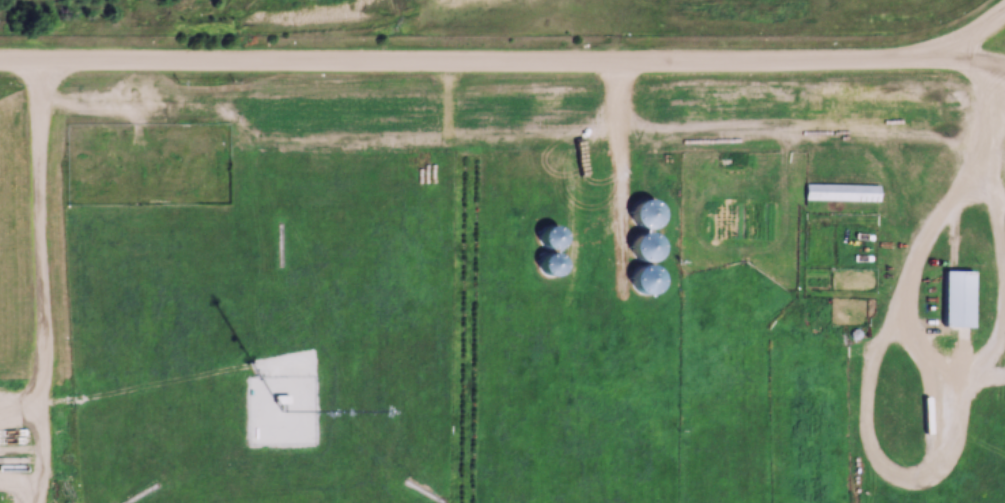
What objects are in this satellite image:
road: (975, 34)
road: (472, 58)
road: (974, 58)
road: (997, 147)
building: (839, 192)
road: (921, 252)
road: (41, 280)
building: (953, 296)

